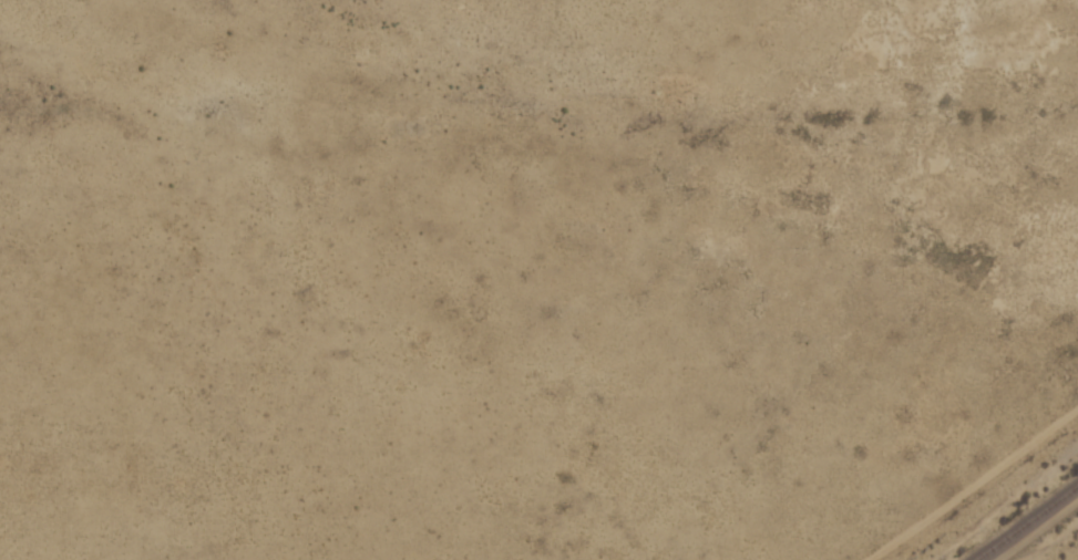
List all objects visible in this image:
railway: (1026, 522)

